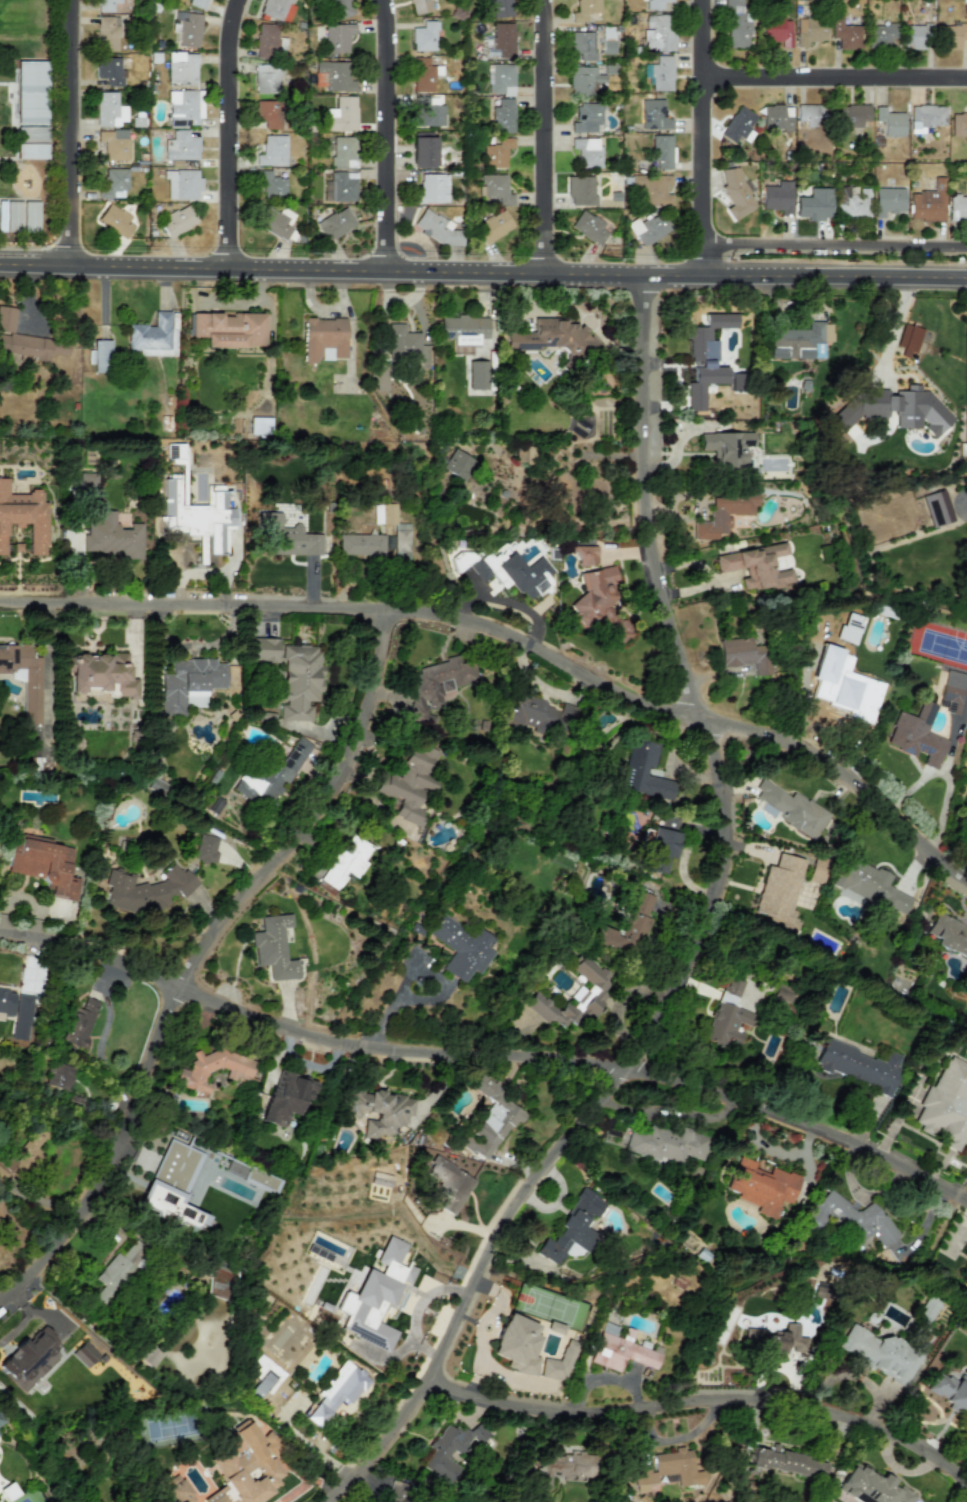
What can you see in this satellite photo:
building: (197, 3)
building: (653, 4)
building: (105, 5)
building: (420, 6)
building: (340, 8)
building: (501, 8)
building: (276, 9)
building: (584, 9)
building: (736, 25)
building: (188, 29)
building: (809, 30)
building: (659, 32)
building: (106, 33)
building: (779, 33)
building: (845, 33)
building: (880, 35)
building: (951, 35)
building: (424, 36)
building: (917, 36)
building: (337, 37)
building: (503, 38)
building: (267, 41)
building: (608, 43)
building: (582, 44)
building: (181, 67)
building: (109, 70)
building: (661, 73)
building: (335, 75)
building: (421, 75)
road: (836, 75)
building: (266, 78)
building: (501, 79)
building: (584, 80)
building: (184, 107)
building: (109, 110)
building: (427, 111)
building: (267, 113)
building: (652, 114)
building: (852, 114)
building: (340, 115)
building: (809, 115)
building: (503, 116)
building: (585, 116)
building: (925, 116)
building: (776, 117)
park: (27, 121)
building: (889, 121)
building: (738, 124)
building: (959, 124)
building: (31, 133)
road: (72, 133)
road: (230, 133)
road: (389, 135)
road: (546, 136)
road: (707, 137)
building: (114, 144)
building: (180, 146)
building: (31, 150)
building: (423, 150)
building: (271, 151)
building: (343, 151)
building: (587, 151)
building: (660, 151)
building: (496, 153)
building: (113, 183)
building: (182, 184)
building: (271, 184)
building: (341, 186)
building: (432, 188)
building: (651, 188)
building: (494, 189)
building: (580, 190)
building: (735, 193)
building: (777, 197)
building: (887, 200)
building: (852, 201)
building: (928, 203)
building: (813, 204)
building: (957, 207)
building: (11, 215)
building: (30, 216)
building: (178, 220)
building: (116, 221)
building: (275, 222)
building: (335, 223)
building: (493, 225)
building: (588, 227)
building: (648, 228)
building: (438, 229)
road: (837, 246)
road: (483, 272)
road: (585, 317)
building: (229, 329)
building: (463, 331)
building: (153, 336)
building: (908, 338)
building: (554, 339)
building: (26, 340)
building: (800, 341)
building: (402, 343)
building: (99, 355)
building: (705, 357)
building: (476, 374)
building: (380, 376)
building: (893, 408)
building: (728, 448)
building: (174, 450)
building: (522, 453)
building: (457, 464)
building: (87, 481)
building: (936, 507)
building: (724, 512)
building: (197, 515)
building: (24, 516)
building: (111, 537)
building: (288, 537)
building: (401, 541)
building: (360, 544)
building: (584, 552)
building: (755, 566)
building: (526, 575)
building: (597, 602)
road: (544, 614)
road: (515, 637)
building: (264, 649)
building: (744, 654)
building: (101, 673)
building: (24, 676)
building: (299, 681)
building: (189, 683)
building: (435, 687)
building: (952, 691)
building: (851, 706)
building: (540, 713)
building: (917, 734)
building: (642, 771)
building: (272, 776)
building: (409, 782)
building: (156, 786)
building: (790, 808)
building: (669, 822)
building: (206, 848)
building: (659, 850)
building: (346, 860)
building: (42, 863)
building: (868, 886)
building: (146, 890)
building: (778, 890)
building: (626, 927)
building: (949, 934)
road: (700, 938)
building: (273, 947)
building: (461, 947)
road: (201, 960)
building: (781, 994)
building: (573, 996)
building: (6, 1000)
building: (21, 1016)
building: (726, 1016)
building: (78, 1022)
road: (100, 1039)
road: (486, 1057)
building: (857, 1064)
building: (212, 1068)
building: (59, 1076)
building: (285, 1096)
building: (945, 1105)
building: (380, 1111)
road: (672, 1112)
building: (493, 1119)
building: (666, 1143)
building: (25, 1152)
building: (448, 1183)
building: (761, 1186)
building: (172, 1187)
building: (850, 1218)
building: (572, 1227)
building: (116, 1271)
building: (374, 1297)
building: (928, 1309)
building: (775, 1339)
building: (516, 1344)
building: (619, 1349)
building: (85, 1353)
building: (880, 1353)
building: (148, 1354)
building: (29, 1358)
building: (558, 1363)
road: (605, 1376)
building: (273, 1377)
building: (337, 1391)
building: (948, 1391)
road: (703, 1400)
building: (0, 1421)
building: (449, 1449)
building: (786, 1461)
building: (246, 1465)
building: (563, 1467)
building: (668, 1469)
building: (871, 1487)
building: (178, 1490)

